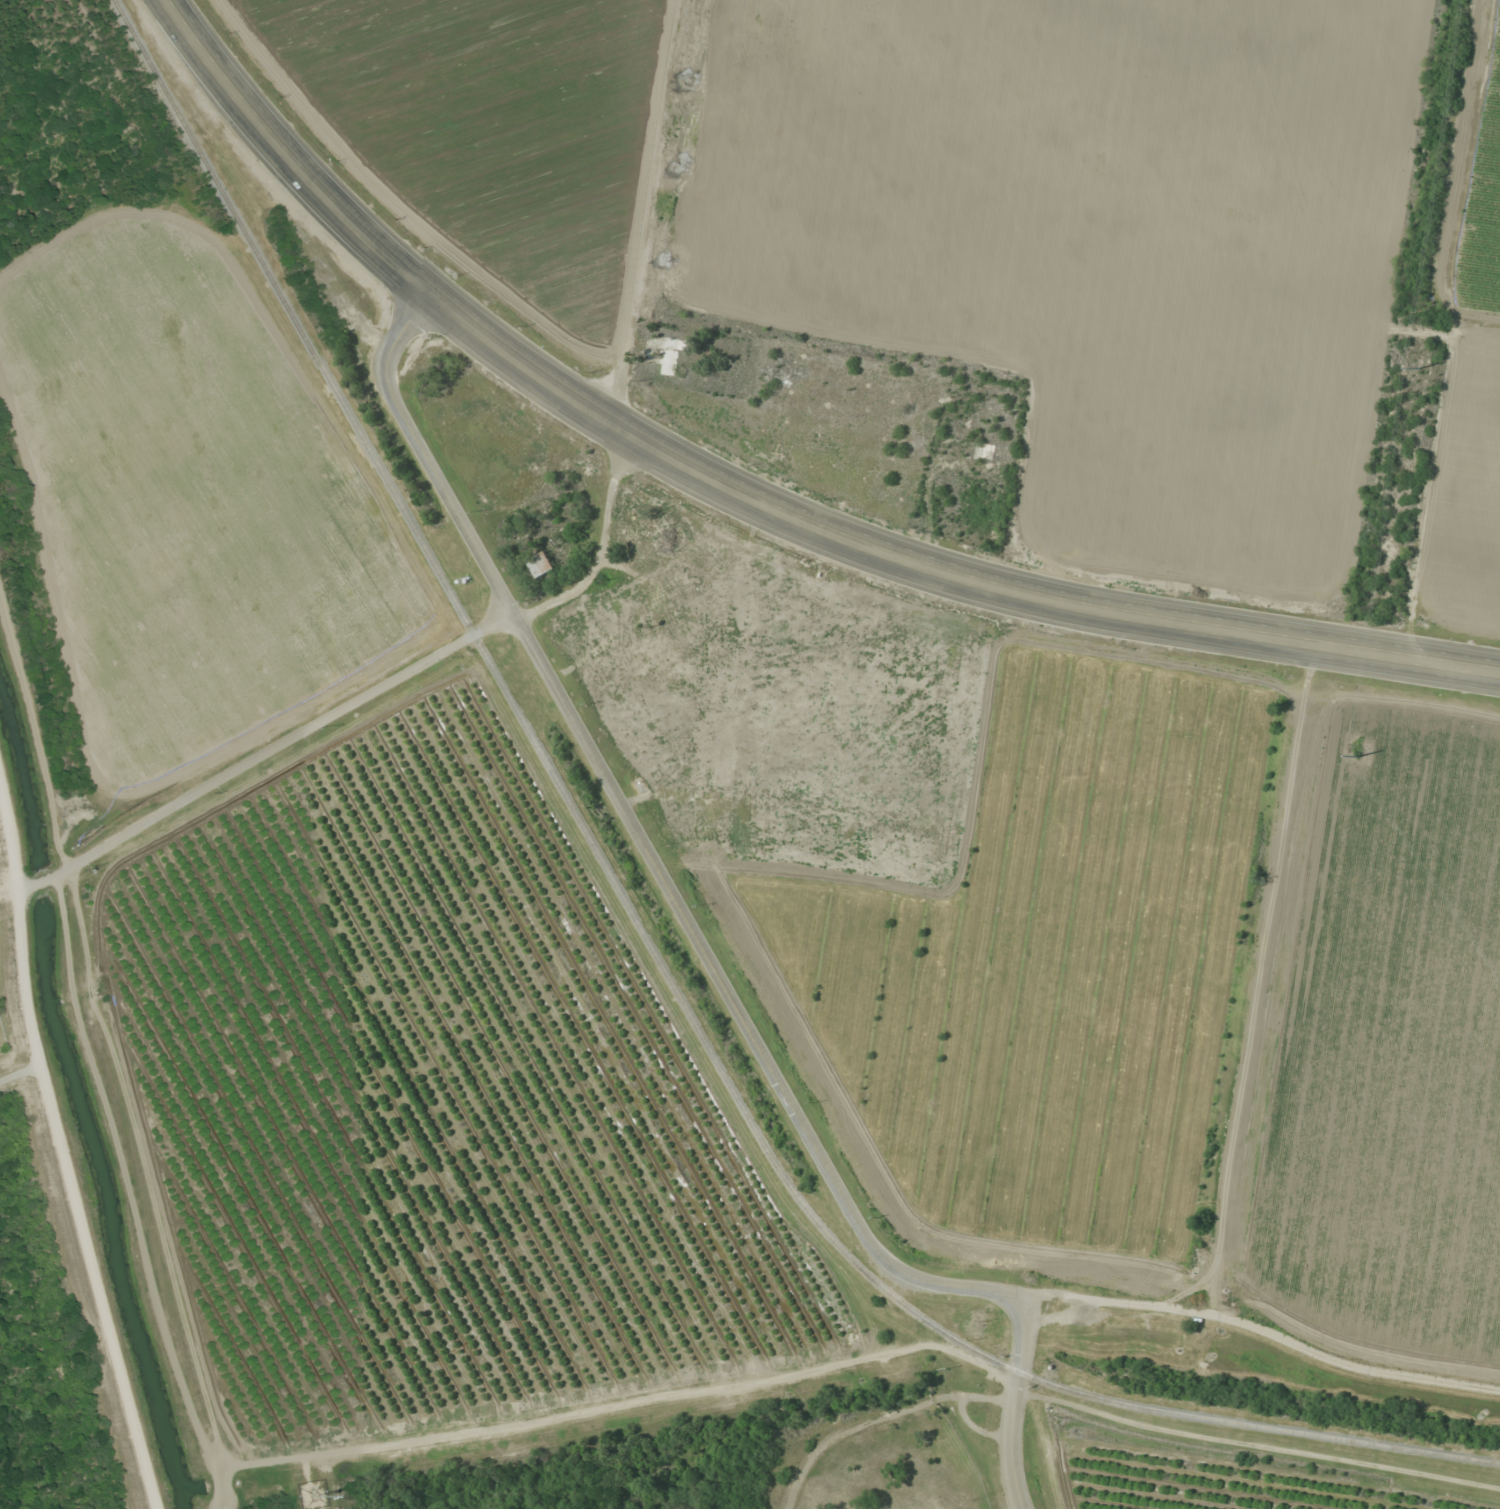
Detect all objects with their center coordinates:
road: (288, 155)
building: (671, 354)
building: (647, 533)
building: (541, 564)
road: (933, 567)
building: (694, 583)
building: (654, 654)
road: (255, 753)
road: (642, 841)
railway: (645, 937)
road: (18, 1069)
road: (60, 1154)
road: (1261, 1329)
road: (1018, 1401)

